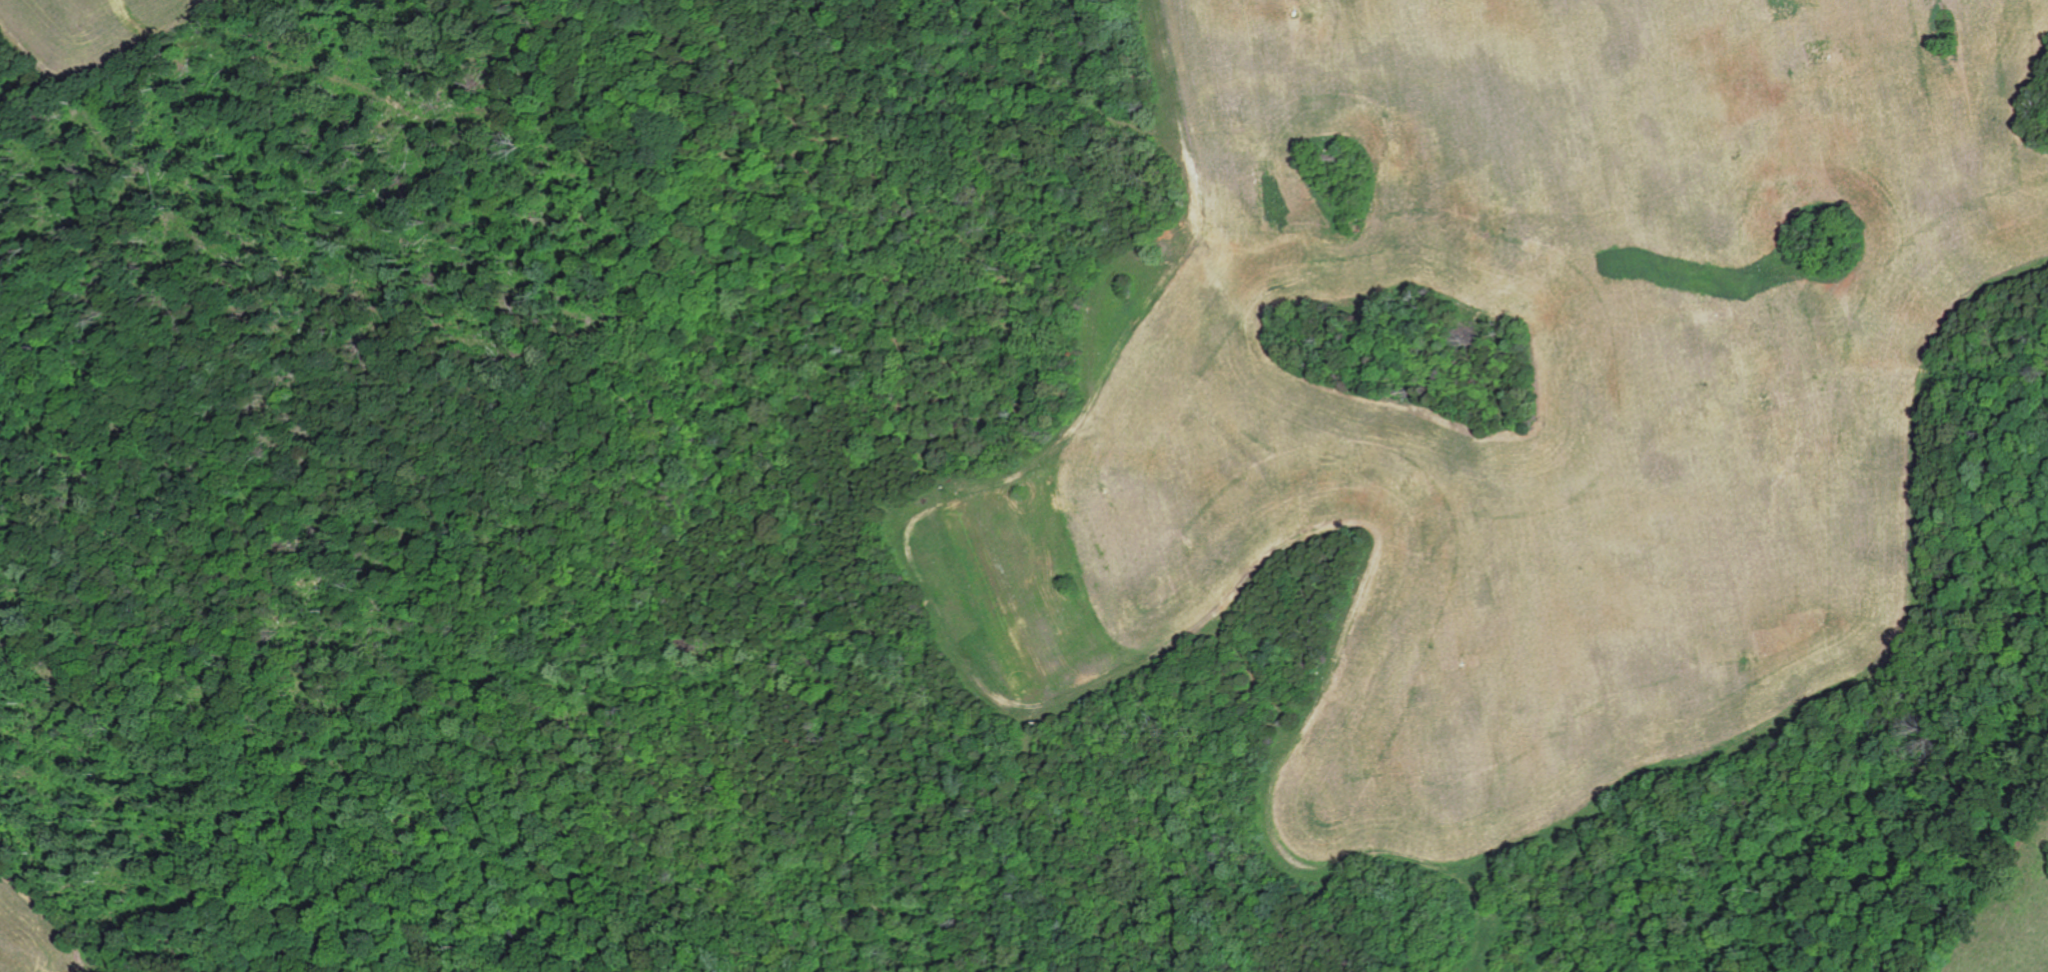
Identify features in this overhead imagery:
road: (558, 308)

